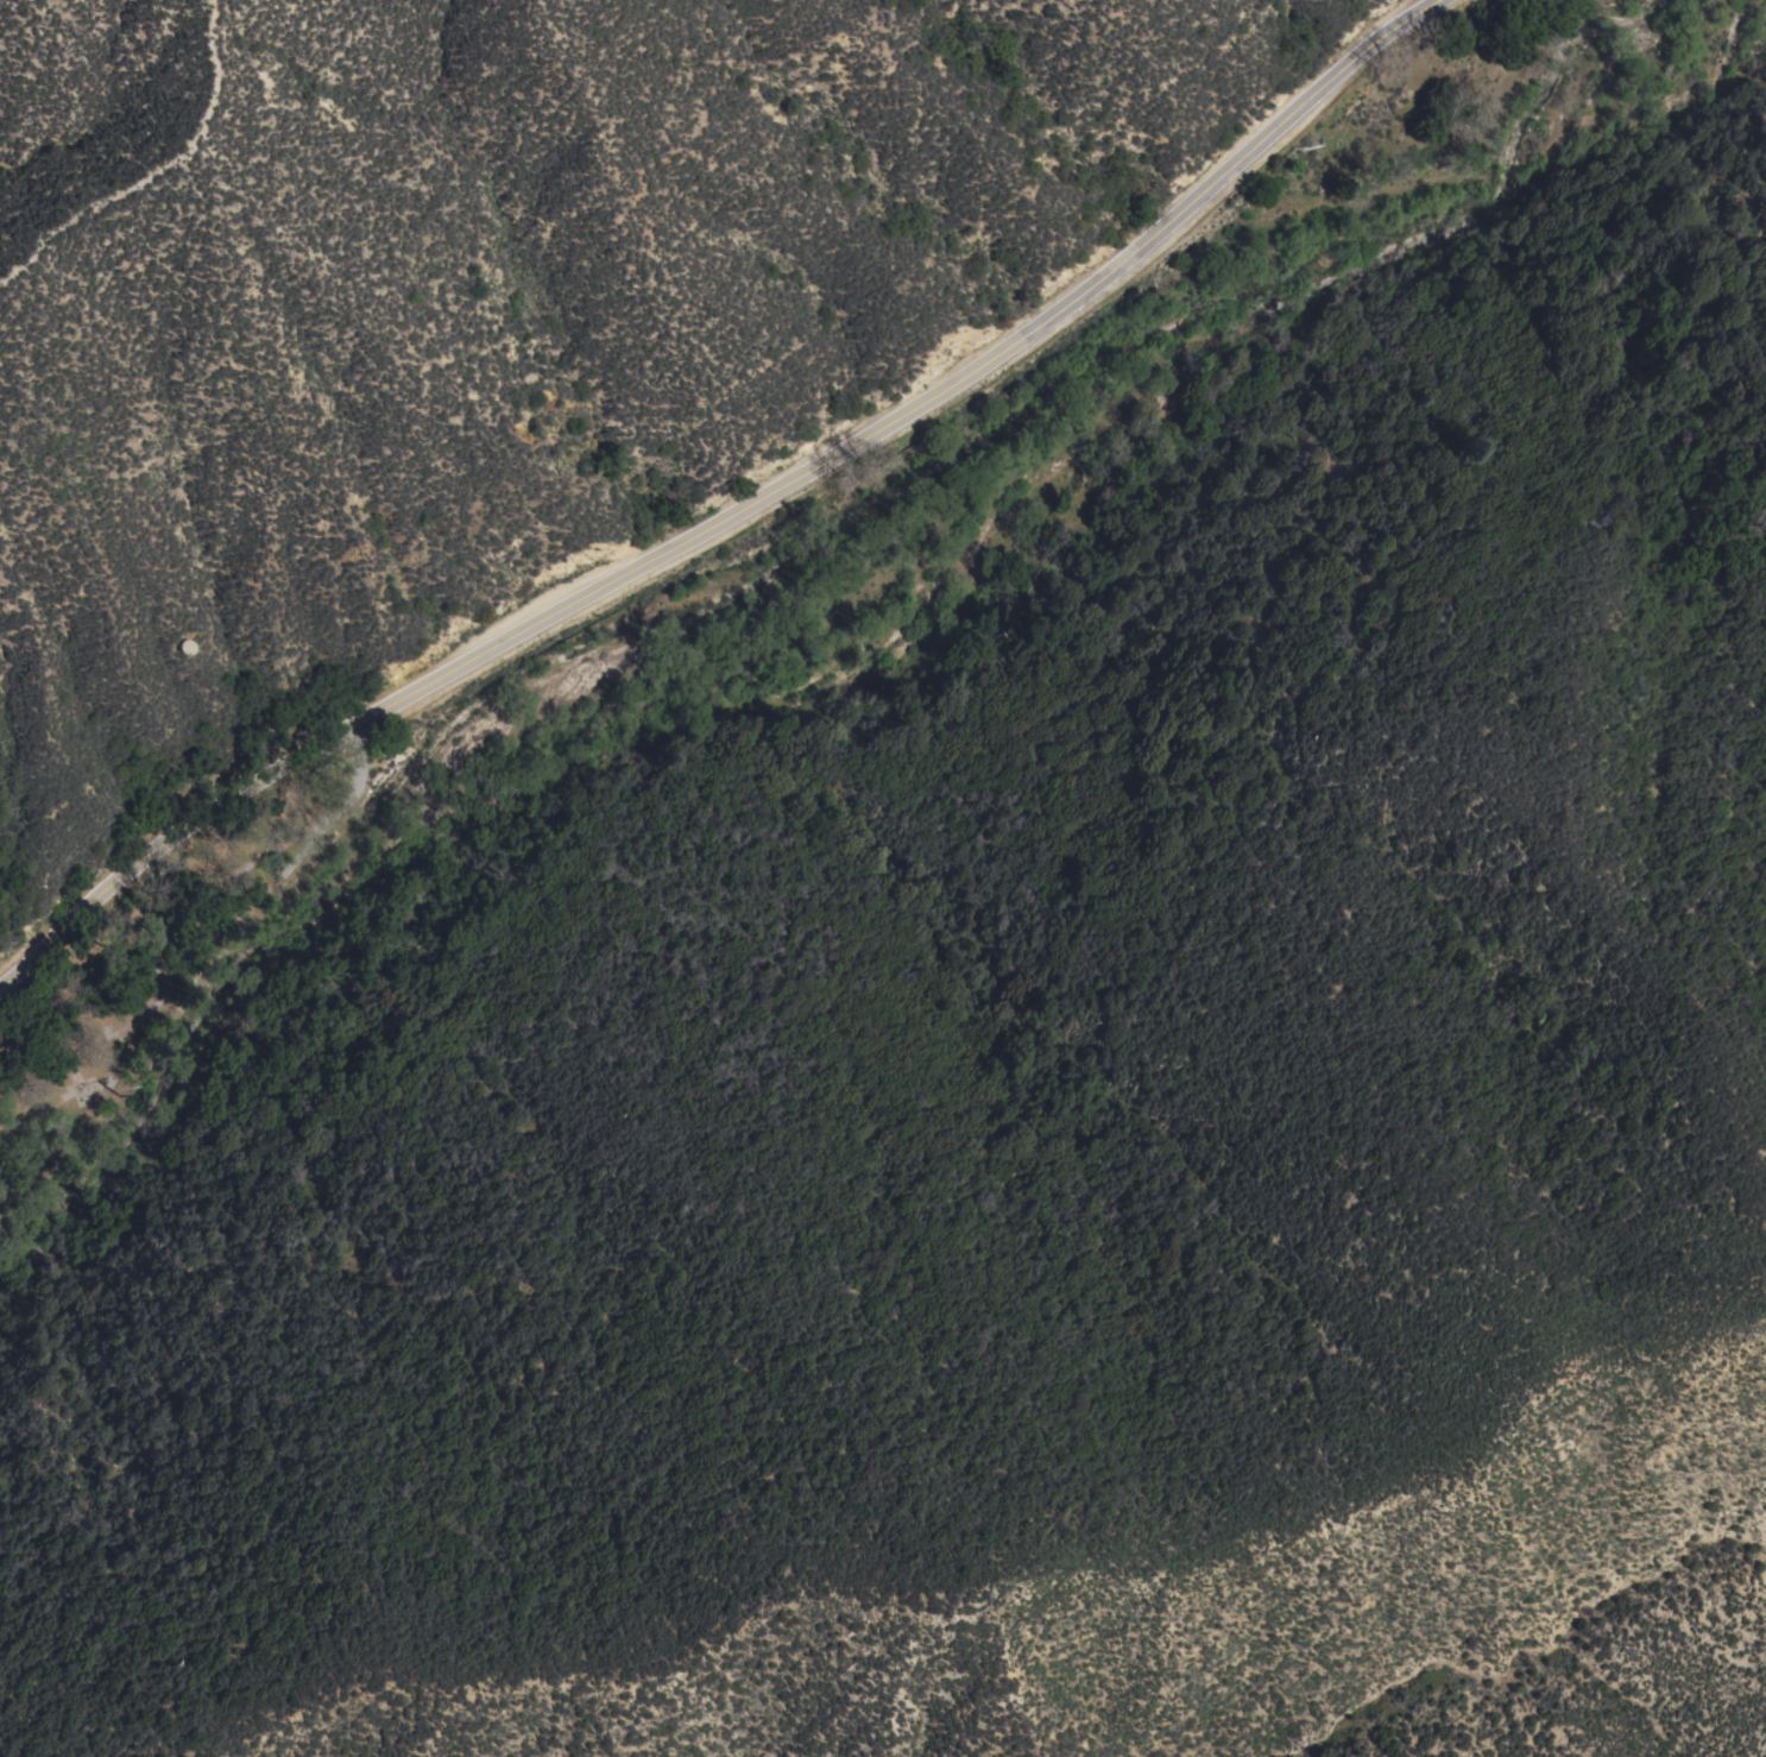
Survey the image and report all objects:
road: (748, 511)
building: (185, 647)

